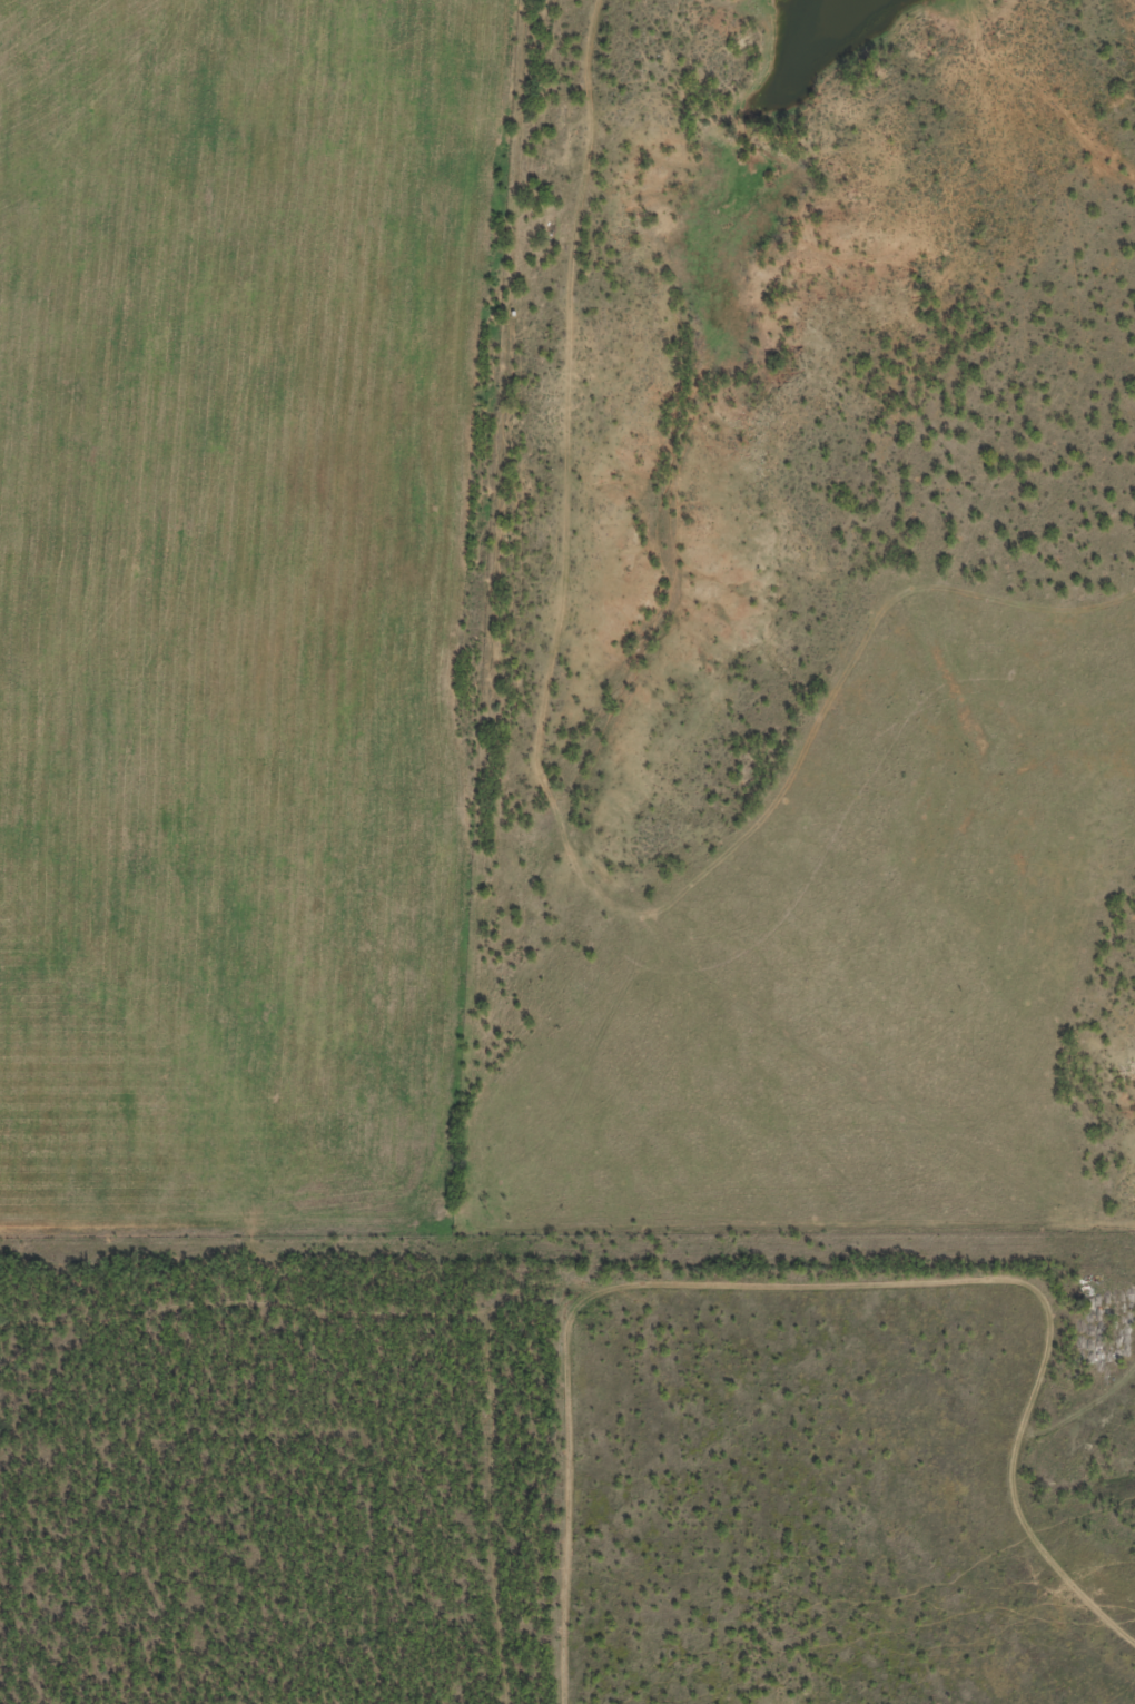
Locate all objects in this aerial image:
road: (1043, 93)

